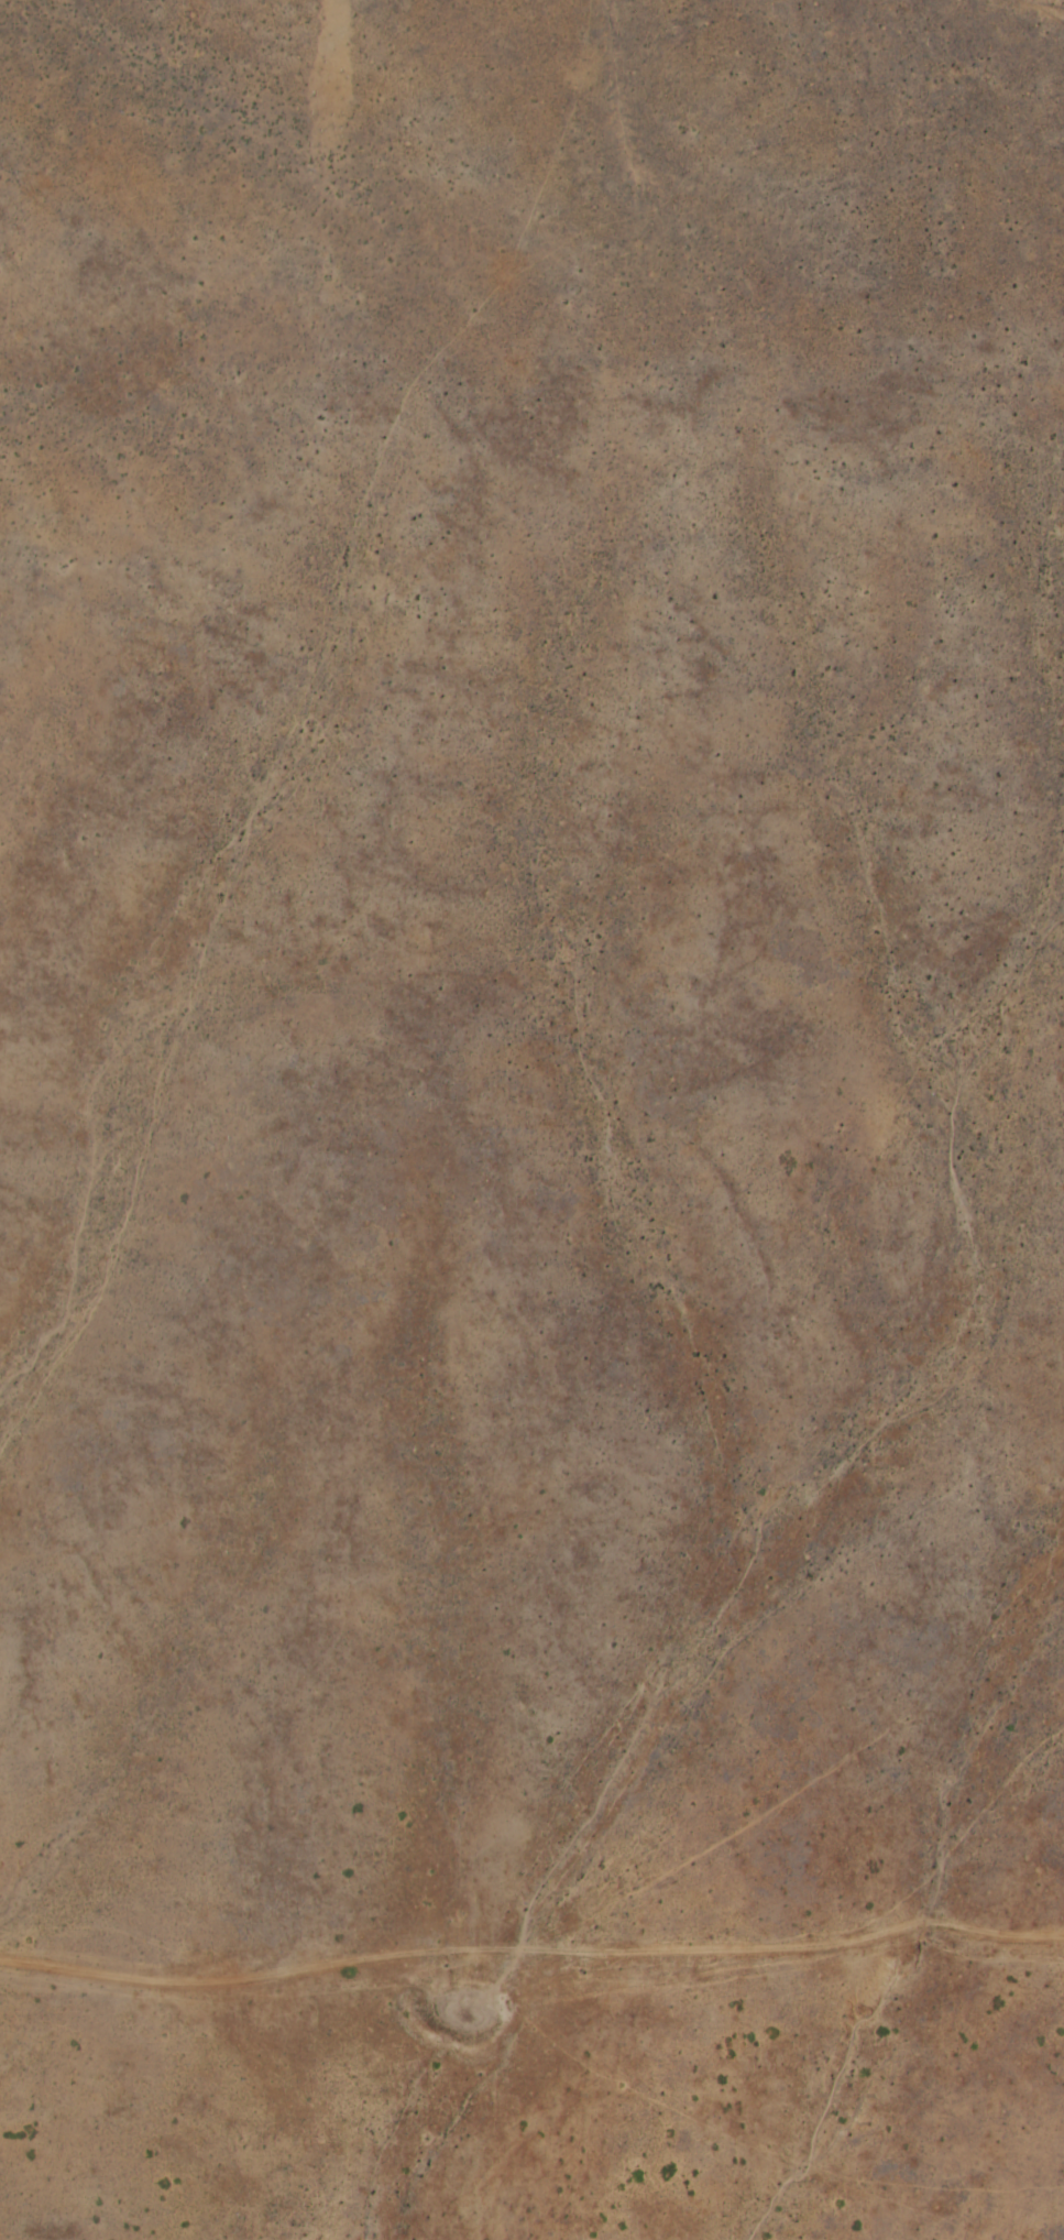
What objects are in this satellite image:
road: (515, 1790)

